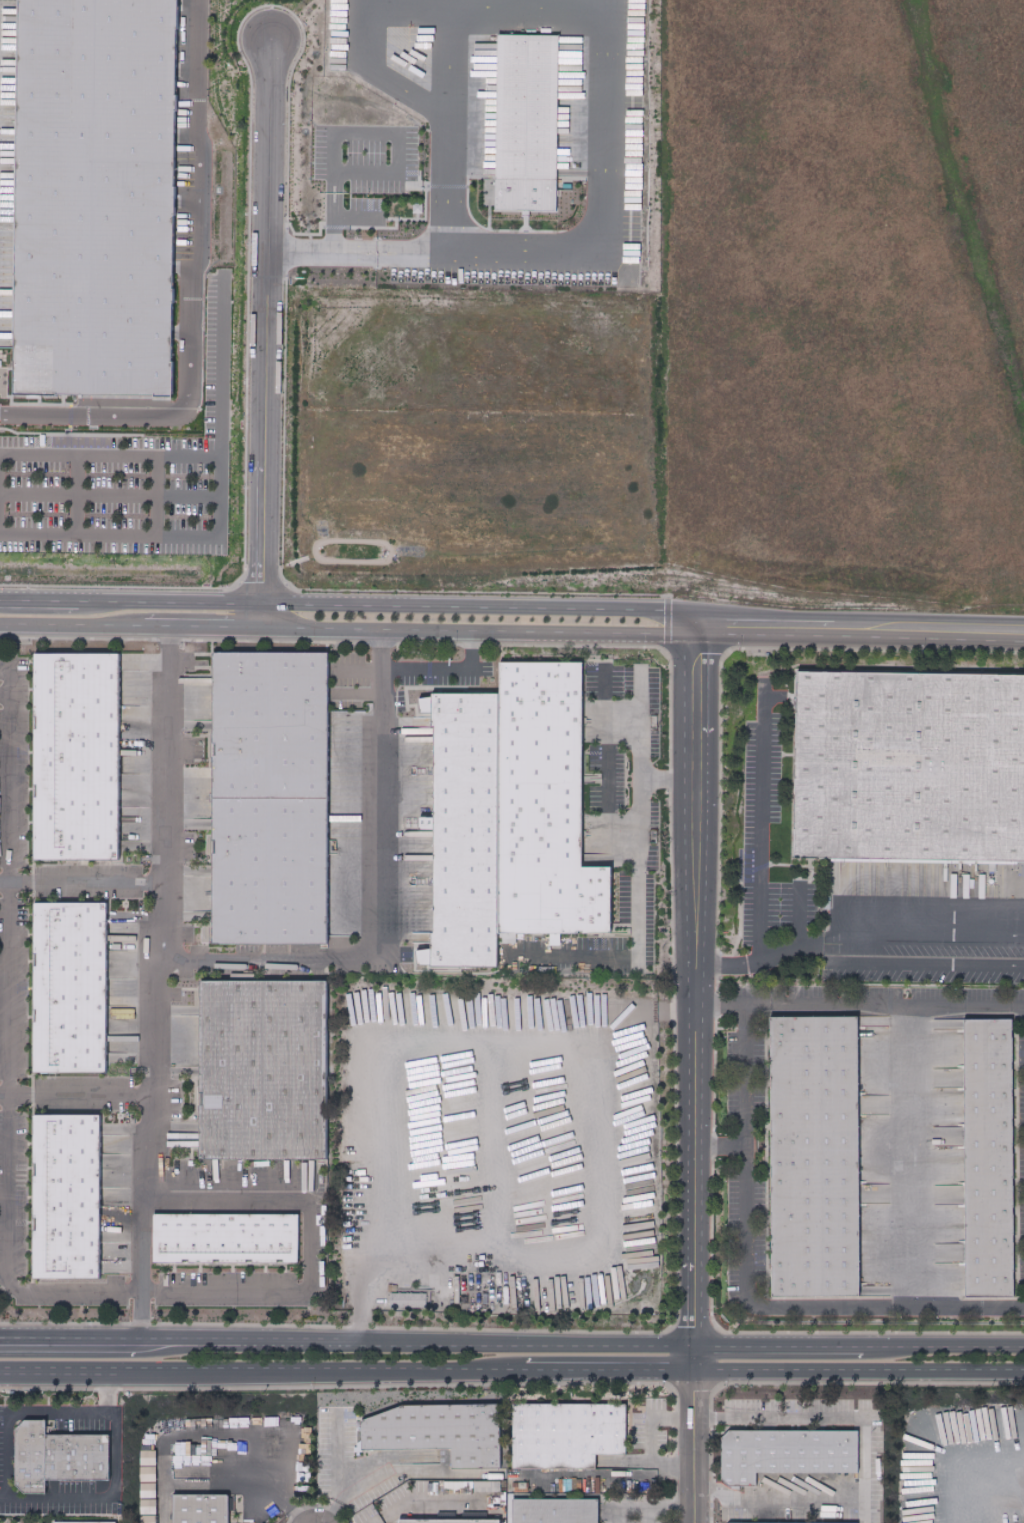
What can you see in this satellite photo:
road: (606, 19)
road: (447, 59)
building: (569, 73)
building: (529, 123)
road: (397, 133)
road: (332, 175)
building: (95, 195)
road: (337, 214)
road: (190, 299)
road: (268, 321)
road: (109, 453)
road: (109, 492)
road: (75, 494)
road: (159, 495)
road: (218, 511)
road: (351, 605)
road: (862, 624)
road: (350, 629)
road: (420, 669)
road: (4, 695)
road: (605, 710)
road: (639, 754)
building: (74, 765)
building: (909, 775)
building: (537, 806)
building: (267, 809)
road: (379, 812)
building: (428, 825)
road: (604, 827)
building: (467, 830)
road: (165, 838)
road: (755, 852)
road: (797, 913)
road: (938, 934)
road: (825, 940)
road: (637, 942)
road: (774, 953)
road: (935, 961)
road: (252, 963)
building: (70, 996)
road: (861, 1006)
road: (646, 1018)
road: (697, 1072)
building: (260, 1081)
road: (596, 1085)
road: (82, 1094)
road: (741, 1097)
road: (164, 1127)
road: (905, 1159)
building: (812, 1168)
building: (987, 1172)
building: (66, 1204)
road: (2, 1243)
building: (227, 1244)
building: (409, 1300)
road: (802, 1312)
road: (63, 1343)
road: (410, 1346)
road: (778, 1348)
road: (942, 1348)
road: (610, 1370)
road: (860, 1371)
road: (262, 1372)
road: (34, 1414)
road: (831, 1415)
building: (439, 1429)
building: (565, 1432)
road: (647, 1442)
building: (786, 1449)
building: (56, 1454)
road: (332, 1466)
road: (383, 1475)
road: (278, 1495)
road: (104, 1499)
road: (422, 1502)
road: (778, 1504)
building: (551, 1511)
building: (203, 1512)
road: (614, 1513)
building: (446, 1520)
building: (793, 1521)
building: (84, 1522)

